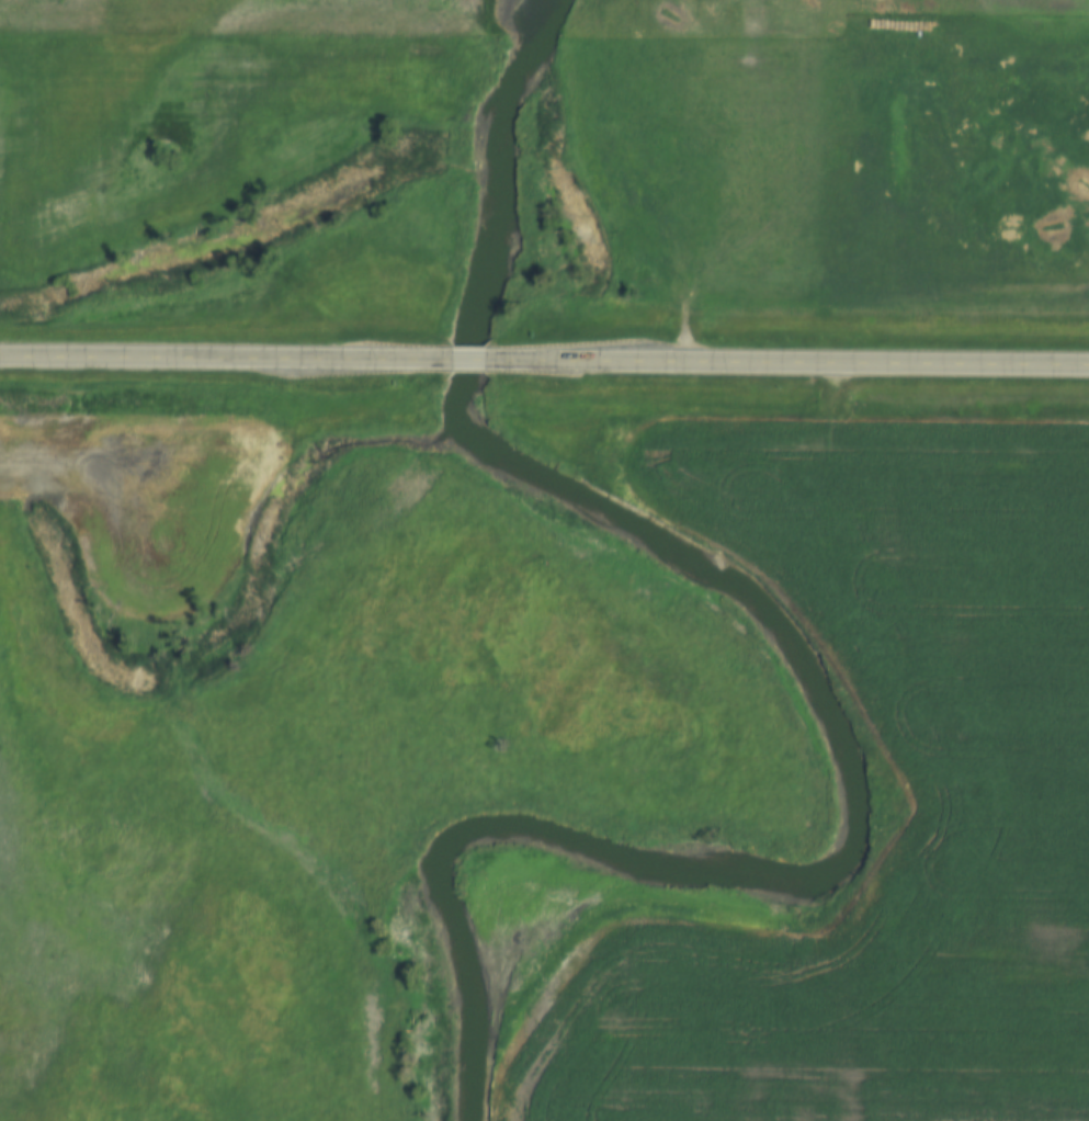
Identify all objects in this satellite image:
road: (225, 358)
road: (468, 360)
road: (787, 362)
river: (804, 659)

